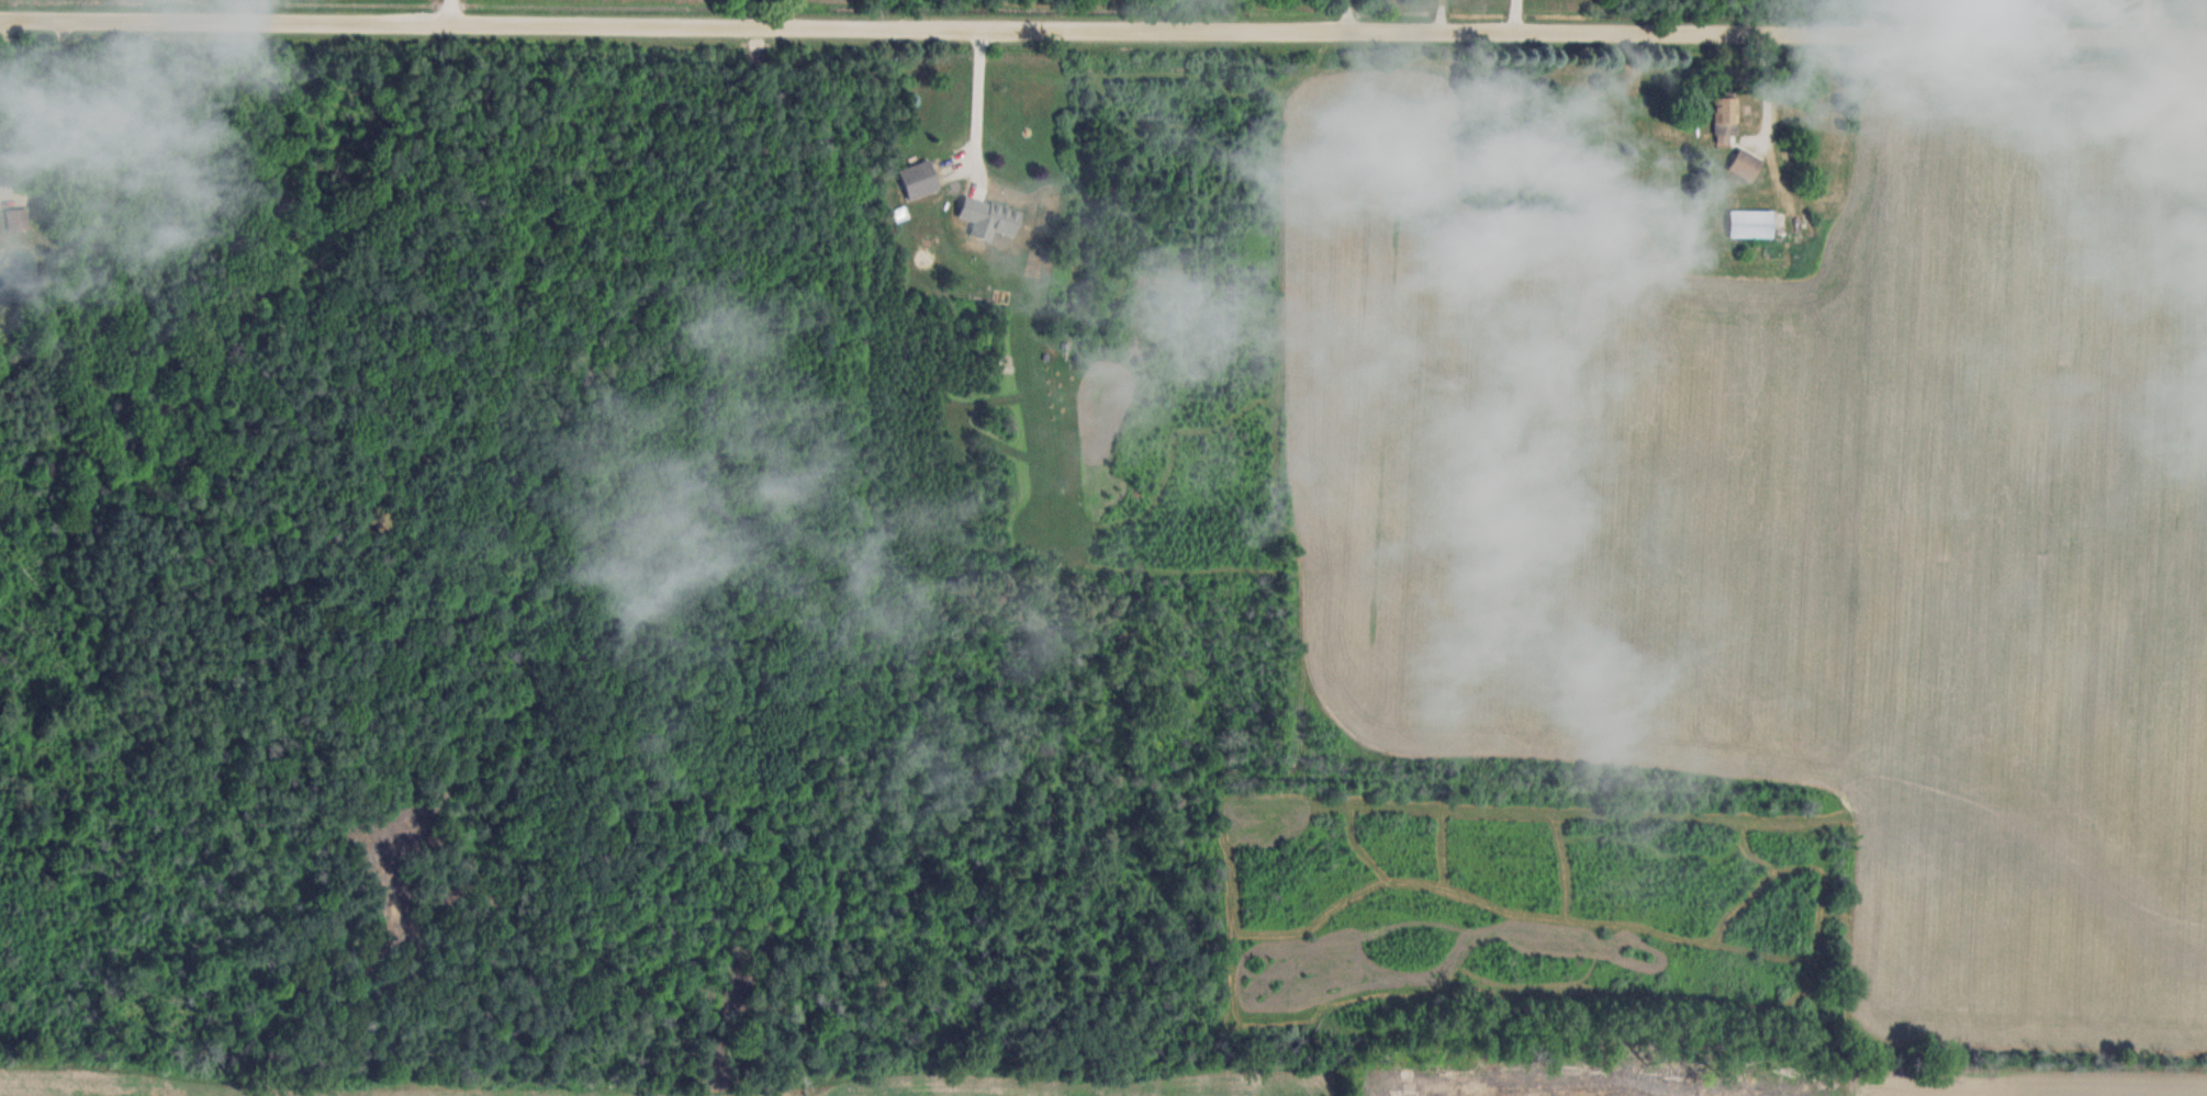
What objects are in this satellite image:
road: (1103, 31)
road: (4, 61)
building: (1726, 117)
building: (1746, 163)
building: (919, 178)
road: (10, 191)
building: (988, 216)
building: (16, 217)
building: (1751, 222)

